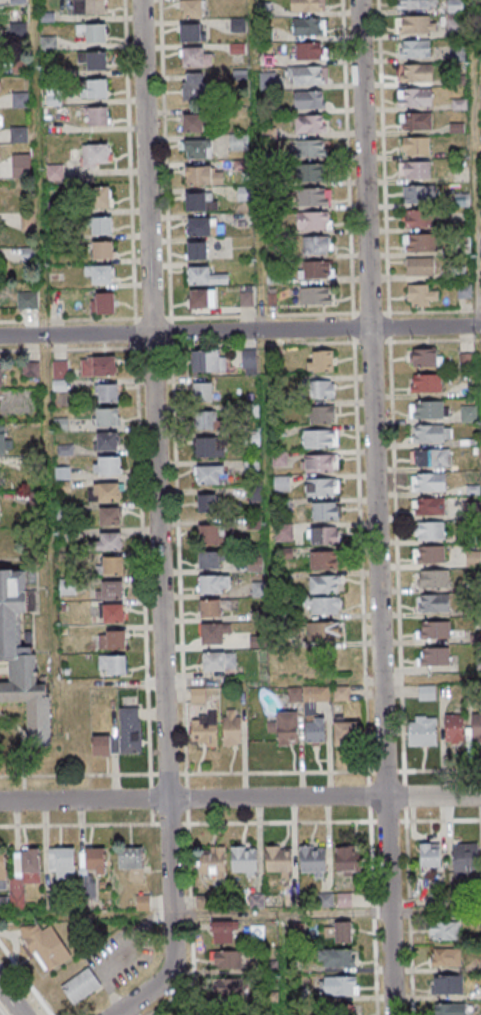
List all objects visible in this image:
building: (416, 4)
building: (307, 5)
building: (454, 6)
building: (89, 7)
building: (191, 8)
building: (416, 24)
building: (309, 26)
building: (93, 32)
building: (192, 32)
building: (414, 49)
building: (310, 50)
building: (196, 56)
building: (96, 61)
building: (416, 73)
building: (307, 74)
building: (194, 85)
building: (97, 89)
building: (54, 95)
building: (415, 97)
building: (309, 99)
building: (98, 116)
building: (415, 121)
building: (192, 124)
building: (310, 124)
building: (416, 146)
building: (310, 148)
building: (195, 150)
road: (475, 155)
building: (95, 156)
road: (380, 156)
road: (345, 157)
building: (415, 170)
building: (315, 174)
road: (127, 176)
building: (203, 176)
building: (419, 194)
building: (314, 197)
building: (98, 198)
building: (200, 201)
building: (417, 218)
building: (313, 221)
building: (102, 227)
building: (203, 227)
building: (419, 242)
building: (318, 244)
road: (165, 250)
building: (197, 250)
building: (102, 251)
building: (420, 266)
building: (317, 269)
building: (100, 275)
building: (205, 276)
building: (423, 295)
building: (316, 296)
building: (246, 297)
building: (202, 298)
building: (27, 301)
building: (103, 304)
road: (260, 305)
road: (433, 312)
road: (368, 313)
road: (240, 332)
road: (415, 341)
building: (426, 357)
building: (321, 360)
building: (208, 361)
building: (249, 362)
building: (98, 366)
building: (31, 369)
building: (60, 370)
building: (1, 374)
building: (426, 383)
building: (323, 389)
building: (203, 391)
building: (107, 392)
road: (43, 397)
building: (430, 409)
building: (322, 414)
building: (468, 414)
building: (106, 416)
building: (204, 420)
building: (432, 433)
building: (320, 438)
building: (3, 440)
building: (107, 441)
building: (208, 447)
building: (431, 458)
building: (320, 463)
building: (107, 465)
building: (210, 475)
building: (428, 482)
building: (472, 482)
building: (281, 484)
building: (322, 487)
building: (105, 492)
building: (206, 503)
road: (375, 507)
building: (430, 507)
building: (325, 511)
building: (109, 516)
road: (157, 521)
building: (430, 531)
building: (283, 533)
building: (209, 535)
building: (324, 536)
building: (110, 541)
building: (430, 555)
building: (208, 559)
building: (323, 560)
building: (474, 560)
building: (113, 564)
building: (432, 578)
building: (214, 583)
building: (325, 584)
building: (109, 589)
building: (434, 602)
building: (322, 605)
building: (210, 607)
building: (113, 612)
building: (433, 629)
building: (213, 632)
building: (323, 632)
building: (112, 639)
building: (434, 656)
building: (20, 661)
building: (219, 661)
building: (112, 664)
road: (430, 679)
building: (232, 726)
building: (285, 727)
building: (475, 727)
building: (130, 729)
building: (203, 729)
building: (314, 729)
building: (454, 729)
building: (345, 732)
building: (422, 732)
building: (101, 745)
road: (441, 771)
road: (183, 774)
road: (240, 798)
road: (424, 821)
road: (184, 824)
road: (368, 851)
building: (430, 856)
building: (278, 858)
building: (313, 858)
building: (243, 859)
building: (465, 859)
building: (347, 860)
building: (93, 861)
building: (131, 862)
building: (212, 863)
building: (61, 864)
building: (3, 867)
building: (24, 872)
road: (194, 915)
road: (406, 918)
building: (443, 930)
building: (222, 931)
building: (338, 931)
building: (46, 947)
building: (445, 956)
building: (336, 957)
building: (227, 959)
road: (283, 964)
road: (25, 979)
building: (447, 984)
building: (80, 986)
building: (231, 986)
building: (340, 986)
road: (11, 999)
building: (449, 1009)

